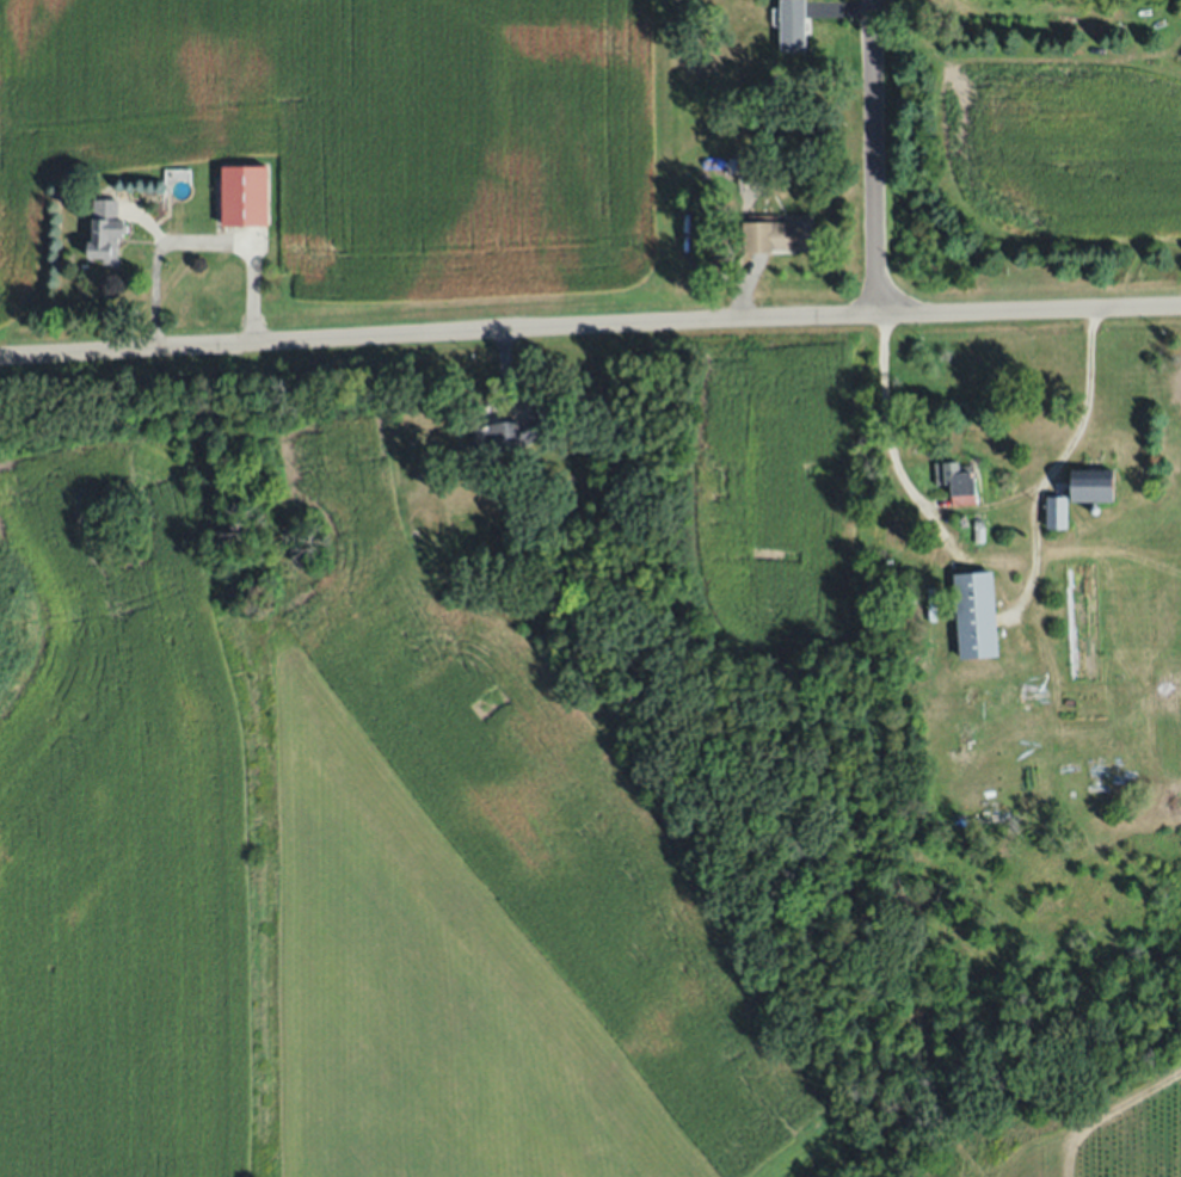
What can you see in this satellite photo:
building: (793, 25)
road: (875, 158)
building: (750, 167)
building: (245, 195)
building: (105, 232)
building: (777, 235)
road: (191, 241)
road: (590, 325)
building: (510, 435)
building: (958, 482)
building: (1094, 487)
road: (976, 507)
building: (1056, 513)
building: (977, 615)

